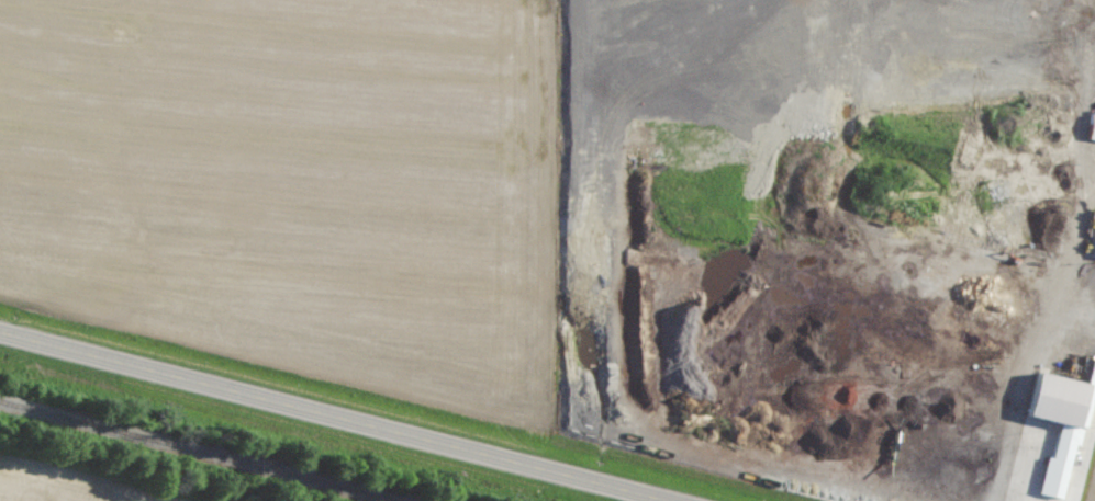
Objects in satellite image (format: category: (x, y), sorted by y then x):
building: (1087, 126)
building: (1001, 189)
building: (1092, 246)
road: (1068, 273)
road: (323, 419)
railway: (189, 453)

